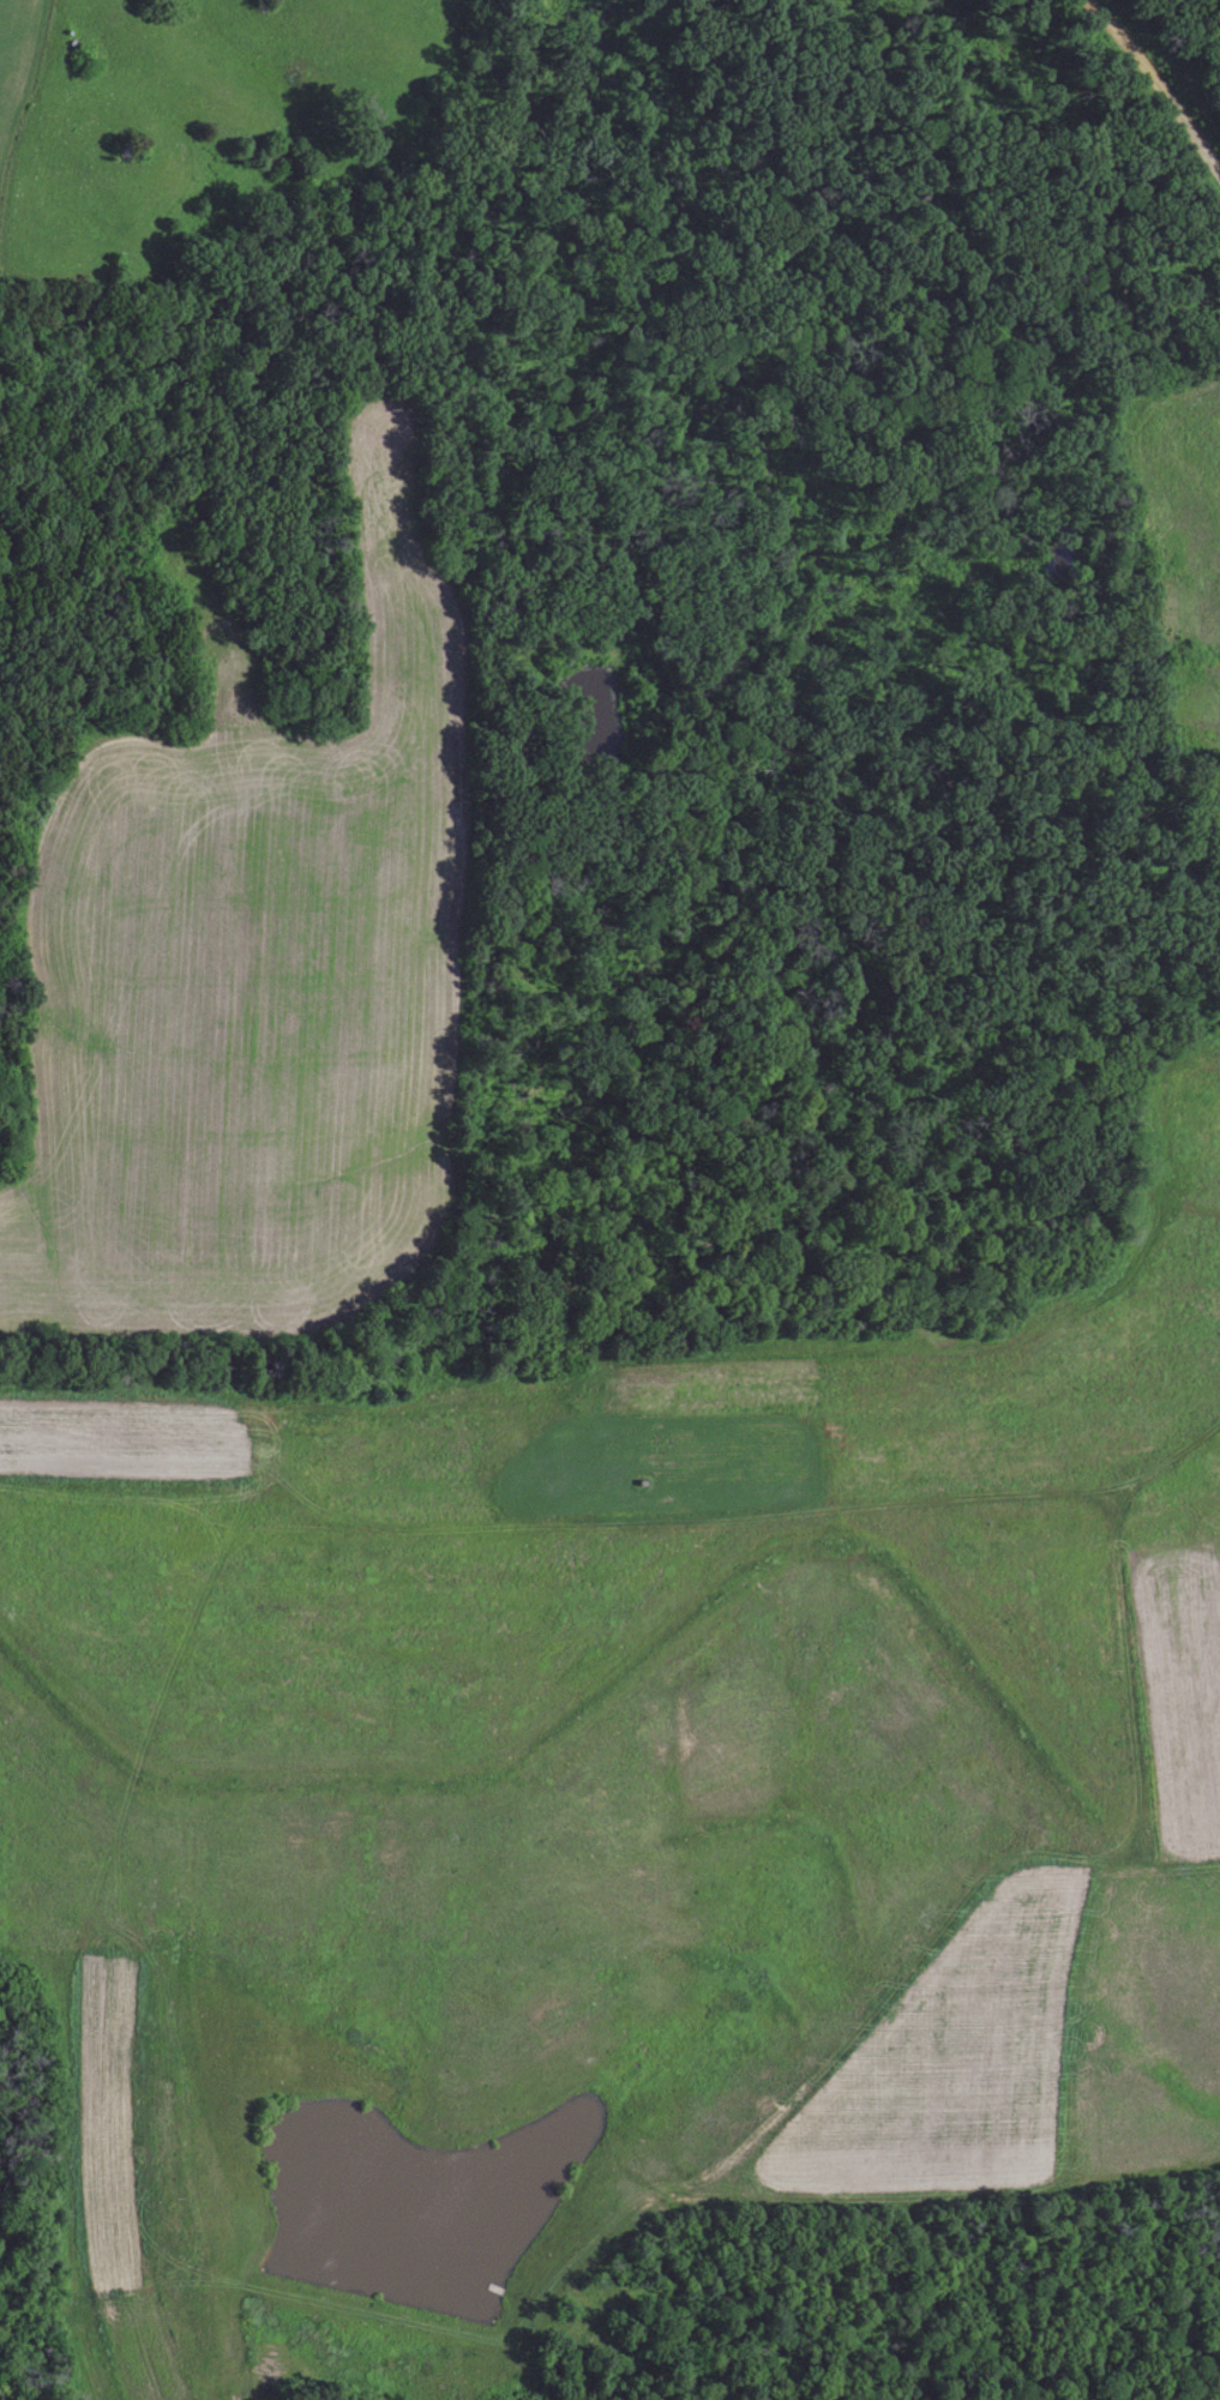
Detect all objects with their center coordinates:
road: (1173, 74)

